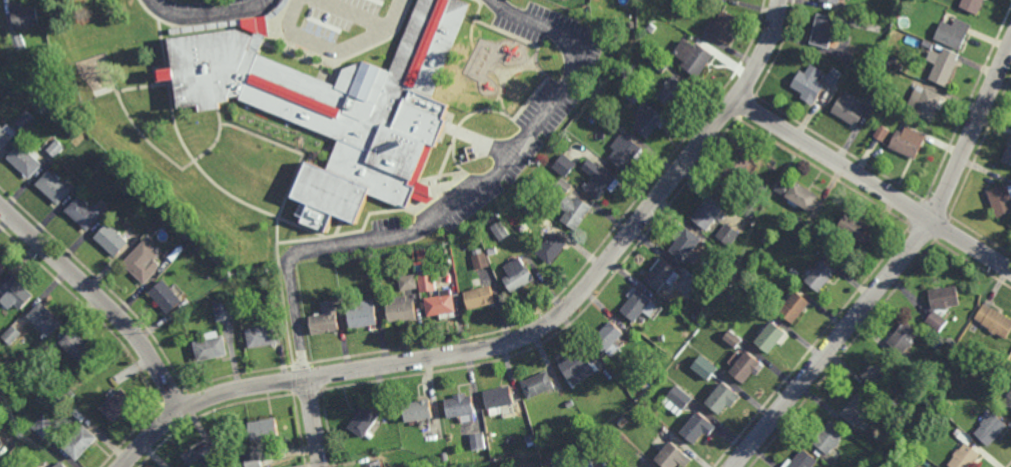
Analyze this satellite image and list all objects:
building: (834, 1)
building: (971, 5)
building: (512, 7)
road: (207, 12)
building: (24, 14)
building: (499, 26)
building: (724, 26)
building: (650, 27)
building: (822, 30)
building: (577, 31)
building: (951, 33)
building: (18, 41)
building: (927, 46)
road: (335, 49)
building: (529, 53)
building: (488, 55)
building: (567, 55)
building: (692, 56)
building: (846, 56)
building: (659, 63)
building: (942, 65)
building: (18, 69)
building: (833, 76)
building: (478, 79)
building: (557, 84)
building: (807, 84)
building: (446, 89)
building: (672, 92)
building: (633, 94)
building: (924, 104)
building: (337, 107)
building: (854, 107)
building: (547, 108)
building: (505, 111)
building: (26, 119)
building: (647, 119)
building: (621, 129)
building: (6, 134)
building: (881, 134)
building: (907, 143)
building: (55, 147)
building: (624, 151)
building: (1007, 155)
building: (25, 159)
building: (565, 165)
building: (735, 168)
building: (600, 180)
road: (874, 184)
building: (53, 186)
building: (564, 186)
building: (764, 186)
building: (139, 187)
building: (782, 187)
building: (801, 196)
building: (1000, 201)
road: (458, 204)
building: (530, 209)
building: (84, 212)
building: (575, 212)
building: (708, 213)
building: (854, 228)
building: (501, 231)
building: (187, 235)
building: (728, 235)
building: (816, 238)
building: (764, 239)
building: (111, 240)
building: (197, 245)
building: (552, 245)
building: (685, 245)
building: (493, 251)
building: (366, 258)
building: (142, 261)
building: (481, 261)
building: (2, 269)
road: (894, 270)
building: (794, 272)
building: (659, 274)
building: (519, 275)
building: (821, 276)
building: (672, 278)
building: (427, 282)
building: (409, 283)
building: (701, 290)
building: (15, 293)
building: (165, 296)
building: (944, 297)
building: (480, 298)
road: (100, 300)
building: (442, 303)
building: (636, 306)
building: (794, 308)
building: (402, 309)
building: (224, 311)
building: (363, 314)
building: (45, 318)
building: (326, 319)
building: (642, 319)
building: (937, 320)
building: (995, 321)
building: (12, 335)
road: (524, 335)
building: (263, 336)
building: (608, 337)
building: (770, 337)
building: (904, 337)
building: (731, 339)
building: (951, 341)
building: (77, 345)
building: (211, 346)
building: (578, 366)
building: (704, 368)
building: (746, 368)
building: (879, 372)
building: (643, 383)
building: (539, 385)
building: (71, 394)
building: (679, 397)
building: (722, 399)
building: (502, 400)
building: (892, 400)
building: (1008, 402)
building: (568, 404)
building: (118, 405)
building: (461, 406)
building: (857, 409)
building: (418, 411)
road: (313, 421)
building: (365, 421)
building: (622, 422)
building: (44, 426)
building: (698, 428)
building: (265, 429)
building: (991, 429)
building: (828, 437)
building: (529, 439)
building: (477, 441)
building: (1, 443)
building: (81, 443)
building: (886, 451)
building: (965, 456)
building: (201, 457)
building: (673, 457)
building: (547, 459)
building: (561, 459)
building: (254, 460)
building: (804, 460)
building: (60, 465)
building: (375, 465)
building: (864, 465)
building: (44, 466)

